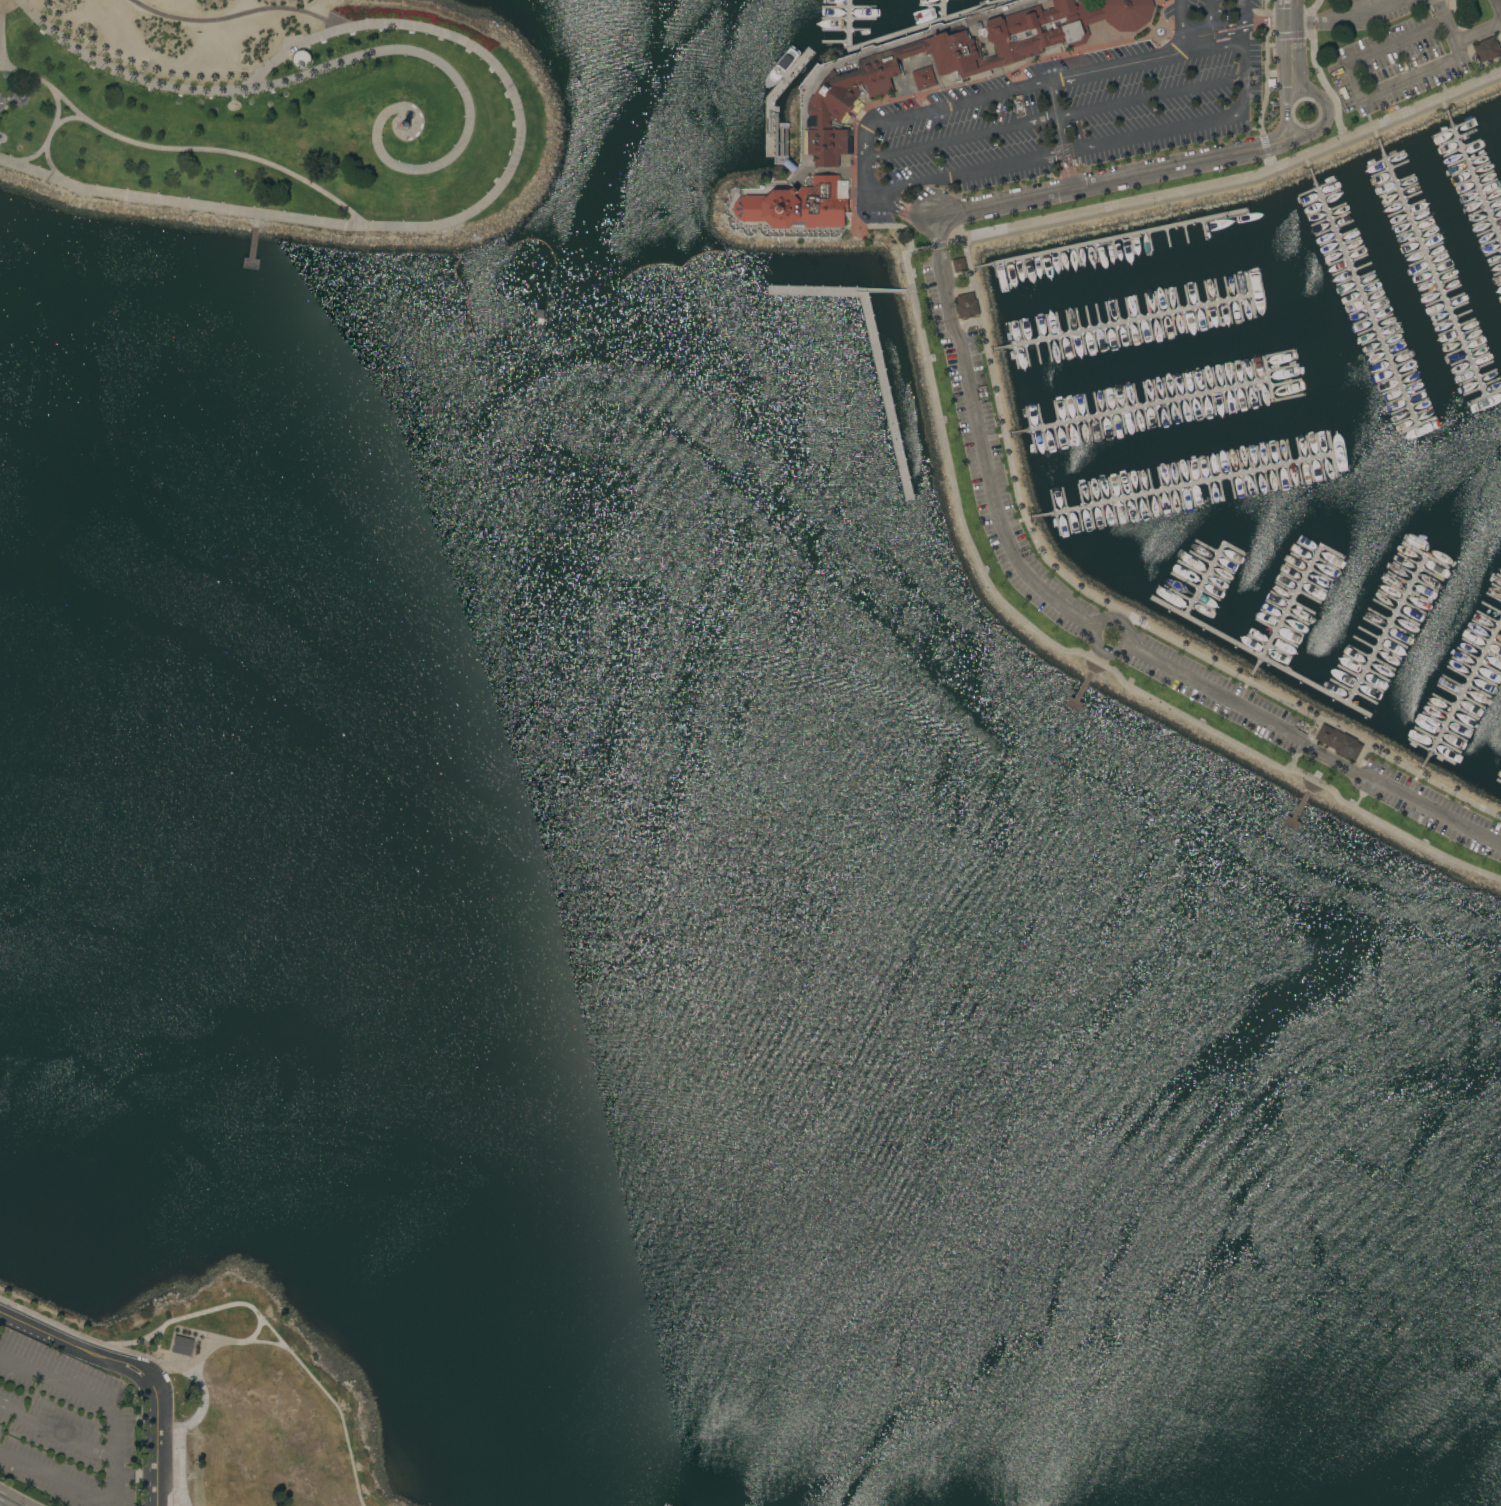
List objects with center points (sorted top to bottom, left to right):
road: (1, 2)
park: (1321, 5)
road: (1498, 5)
road: (1265, 7)
road: (1442, 11)
pier: (943, 12)
road: (1232, 12)
road: (240, 14)
road: (1209, 16)
road: (1184, 18)
pier: (849, 19)
road: (1349, 19)
road: (1265, 22)
road: (1153, 24)
pier: (929, 25)
road: (1168, 25)
road: (1237, 25)
building: (960, 29)
road: (1479, 33)
road: (1288, 35)
road: (1130, 41)
road: (1228, 46)
parking lot: (1405, 47)
road: (1292, 48)
road: (880, 50)
building: (1487, 50)
building: (301, 58)
building: (961, 59)
road: (1317, 70)
road: (119, 72)
road: (500, 72)
building: (923, 77)
road: (969, 82)
road: (1265, 82)
road: (1018, 87)
road: (23, 93)
road: (465, 98)
road: (1151, 98)
road: (1362, 98)
road: (1052, 99)
road: (7, 100)
road: (1, 103)
road: (55, 107)
pier: (771, 115)
road: (67, 116)
park: (278, 116)
road: (401, 116)
building: (405, 124)
road: (1320, 128)
road: (962, 138)
road: (1077, 148)
road: (209, 150)
road: (1266, 151)
road: (1064, 154)
road: (50, 164)
road: (794, 170)
building: (1044, 172)
road: (1242, 177)
pier: (1473, 181)
road: (783, 183)
road: (175, 201)
road: (891, 203)
building: (799, 204)
road: (892, 226)
road: (252, 238)
pier: (1113, 241)
pier: (250, 251)
road: (943, 263)
building: (959, 264)
pier: (1432, 272)
pier: (1363, 300)
building: (967, 305)
pier: (1124, 325)
pier: (887, 398)
pier: (1140, 409)
pier: (1184, 487)
pier: (1425, 557)
pier: (1206, 573)
pier: (1292, 598)
road: (1122, 613)
pier: (1386, 633)
road: (1057, 647)
road: (1098, 647)
pier: (1260, 659)
pier: (1080, 694)
pier: (1462, 696)
building: (1338, 741)
road: (1302, 744)
road: (1314, 744)
pier: (1296, 814)
river: (750, 905)
road: (255, 1329)
road: (196, 1335)
road: (277, 1337)
road: (230, 1340)
road: (157, 1342)
building: (181, 1345)
road: (156, 1358)
road: (134, 1368)
park: (255, 1407)
road: (56, 1430)
road: (112, 1453)
road: (180, 1499)
road: (183, 1499)
road: (11, 1500)
road: (155, 1502)
road: (0, 1505)

